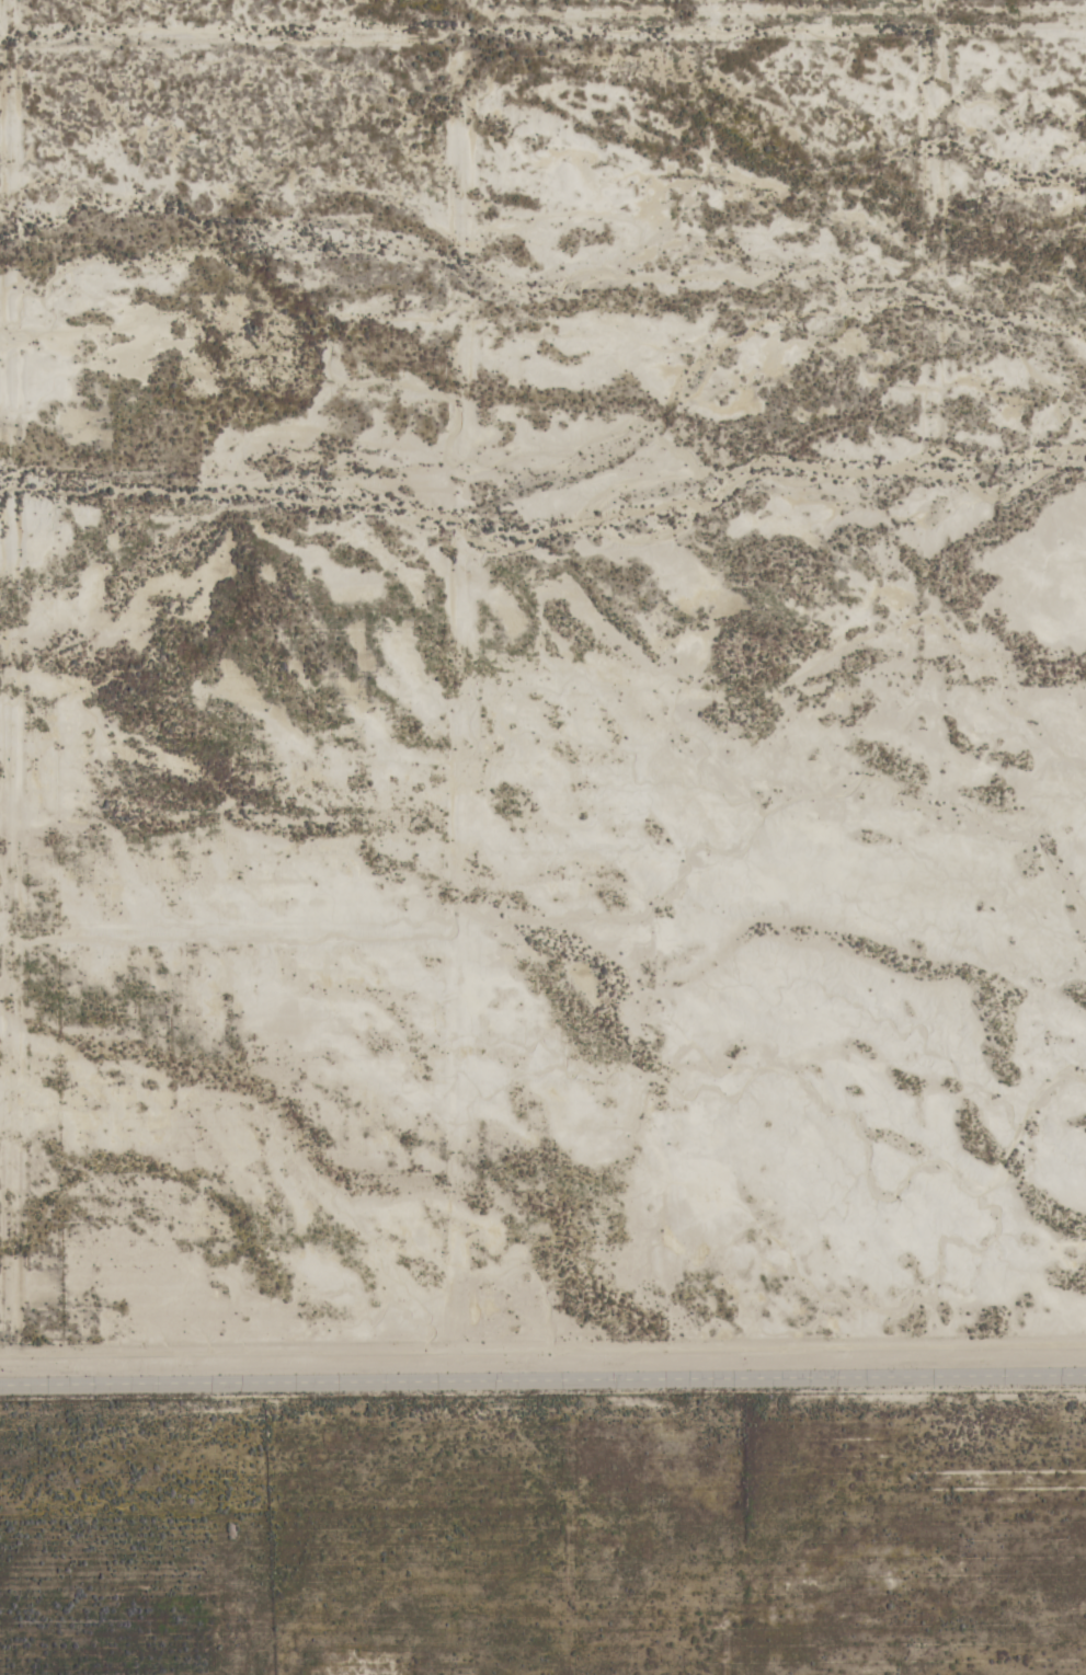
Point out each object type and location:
road: (542, 1385)

